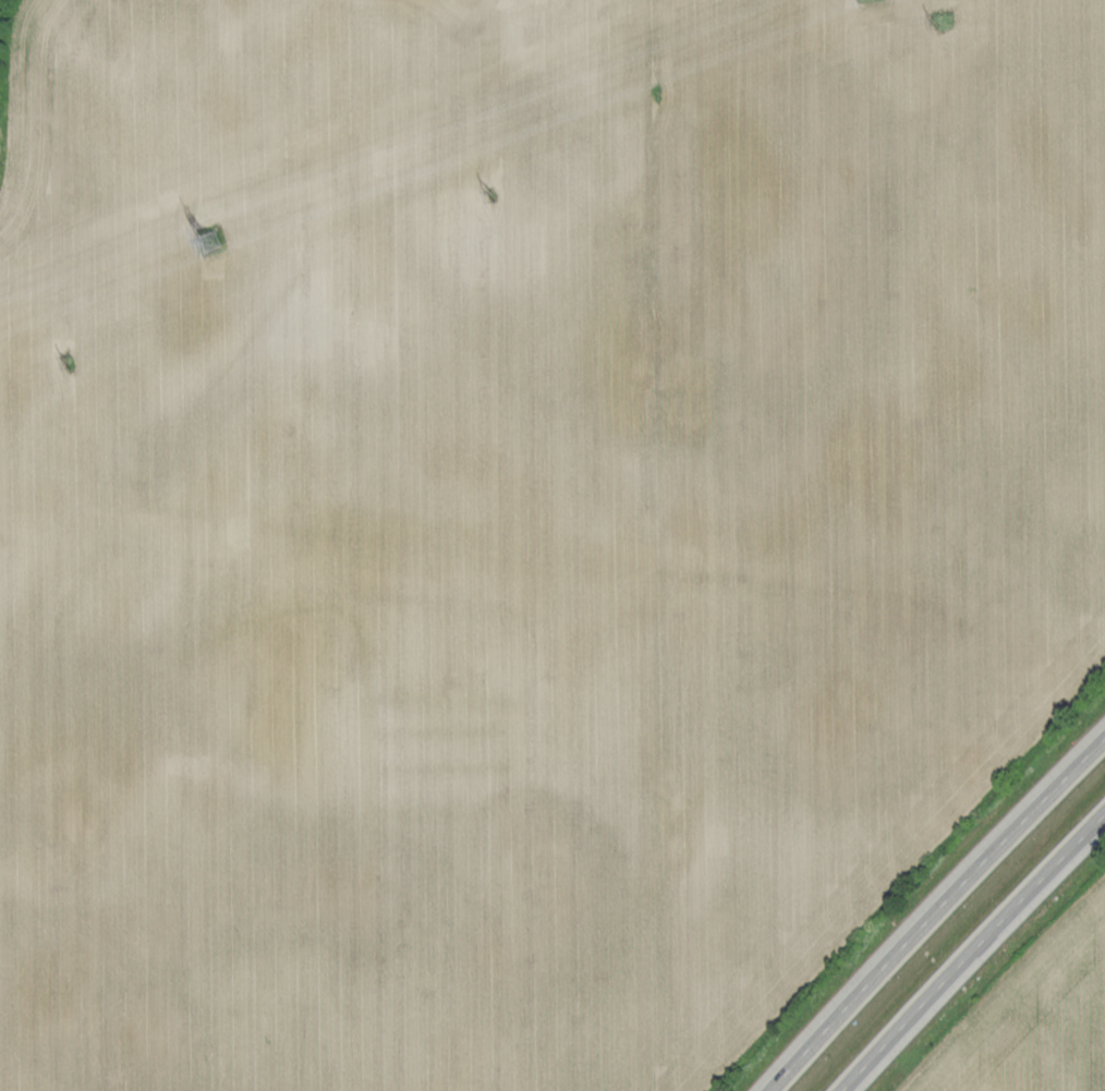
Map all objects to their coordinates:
power tower: (211, 241)
road: (934, 911)
road: (972, 951)

